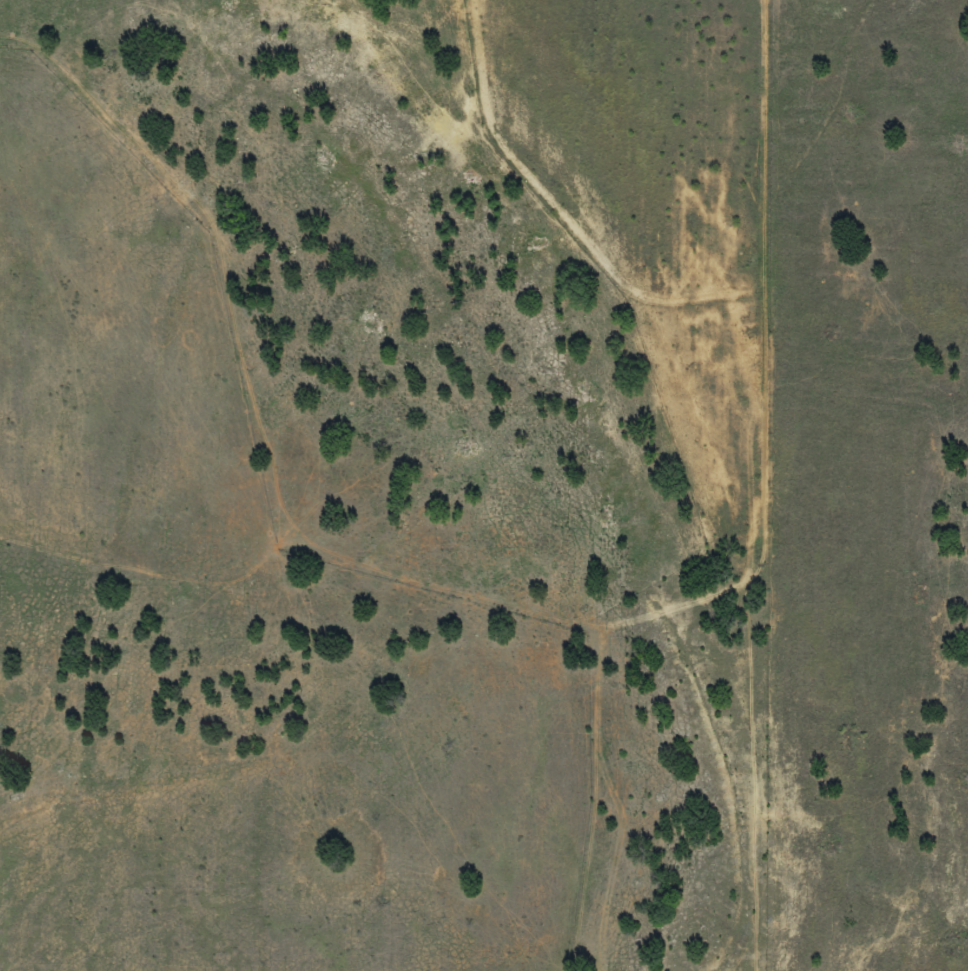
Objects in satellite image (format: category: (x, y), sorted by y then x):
road: (775, 485)

